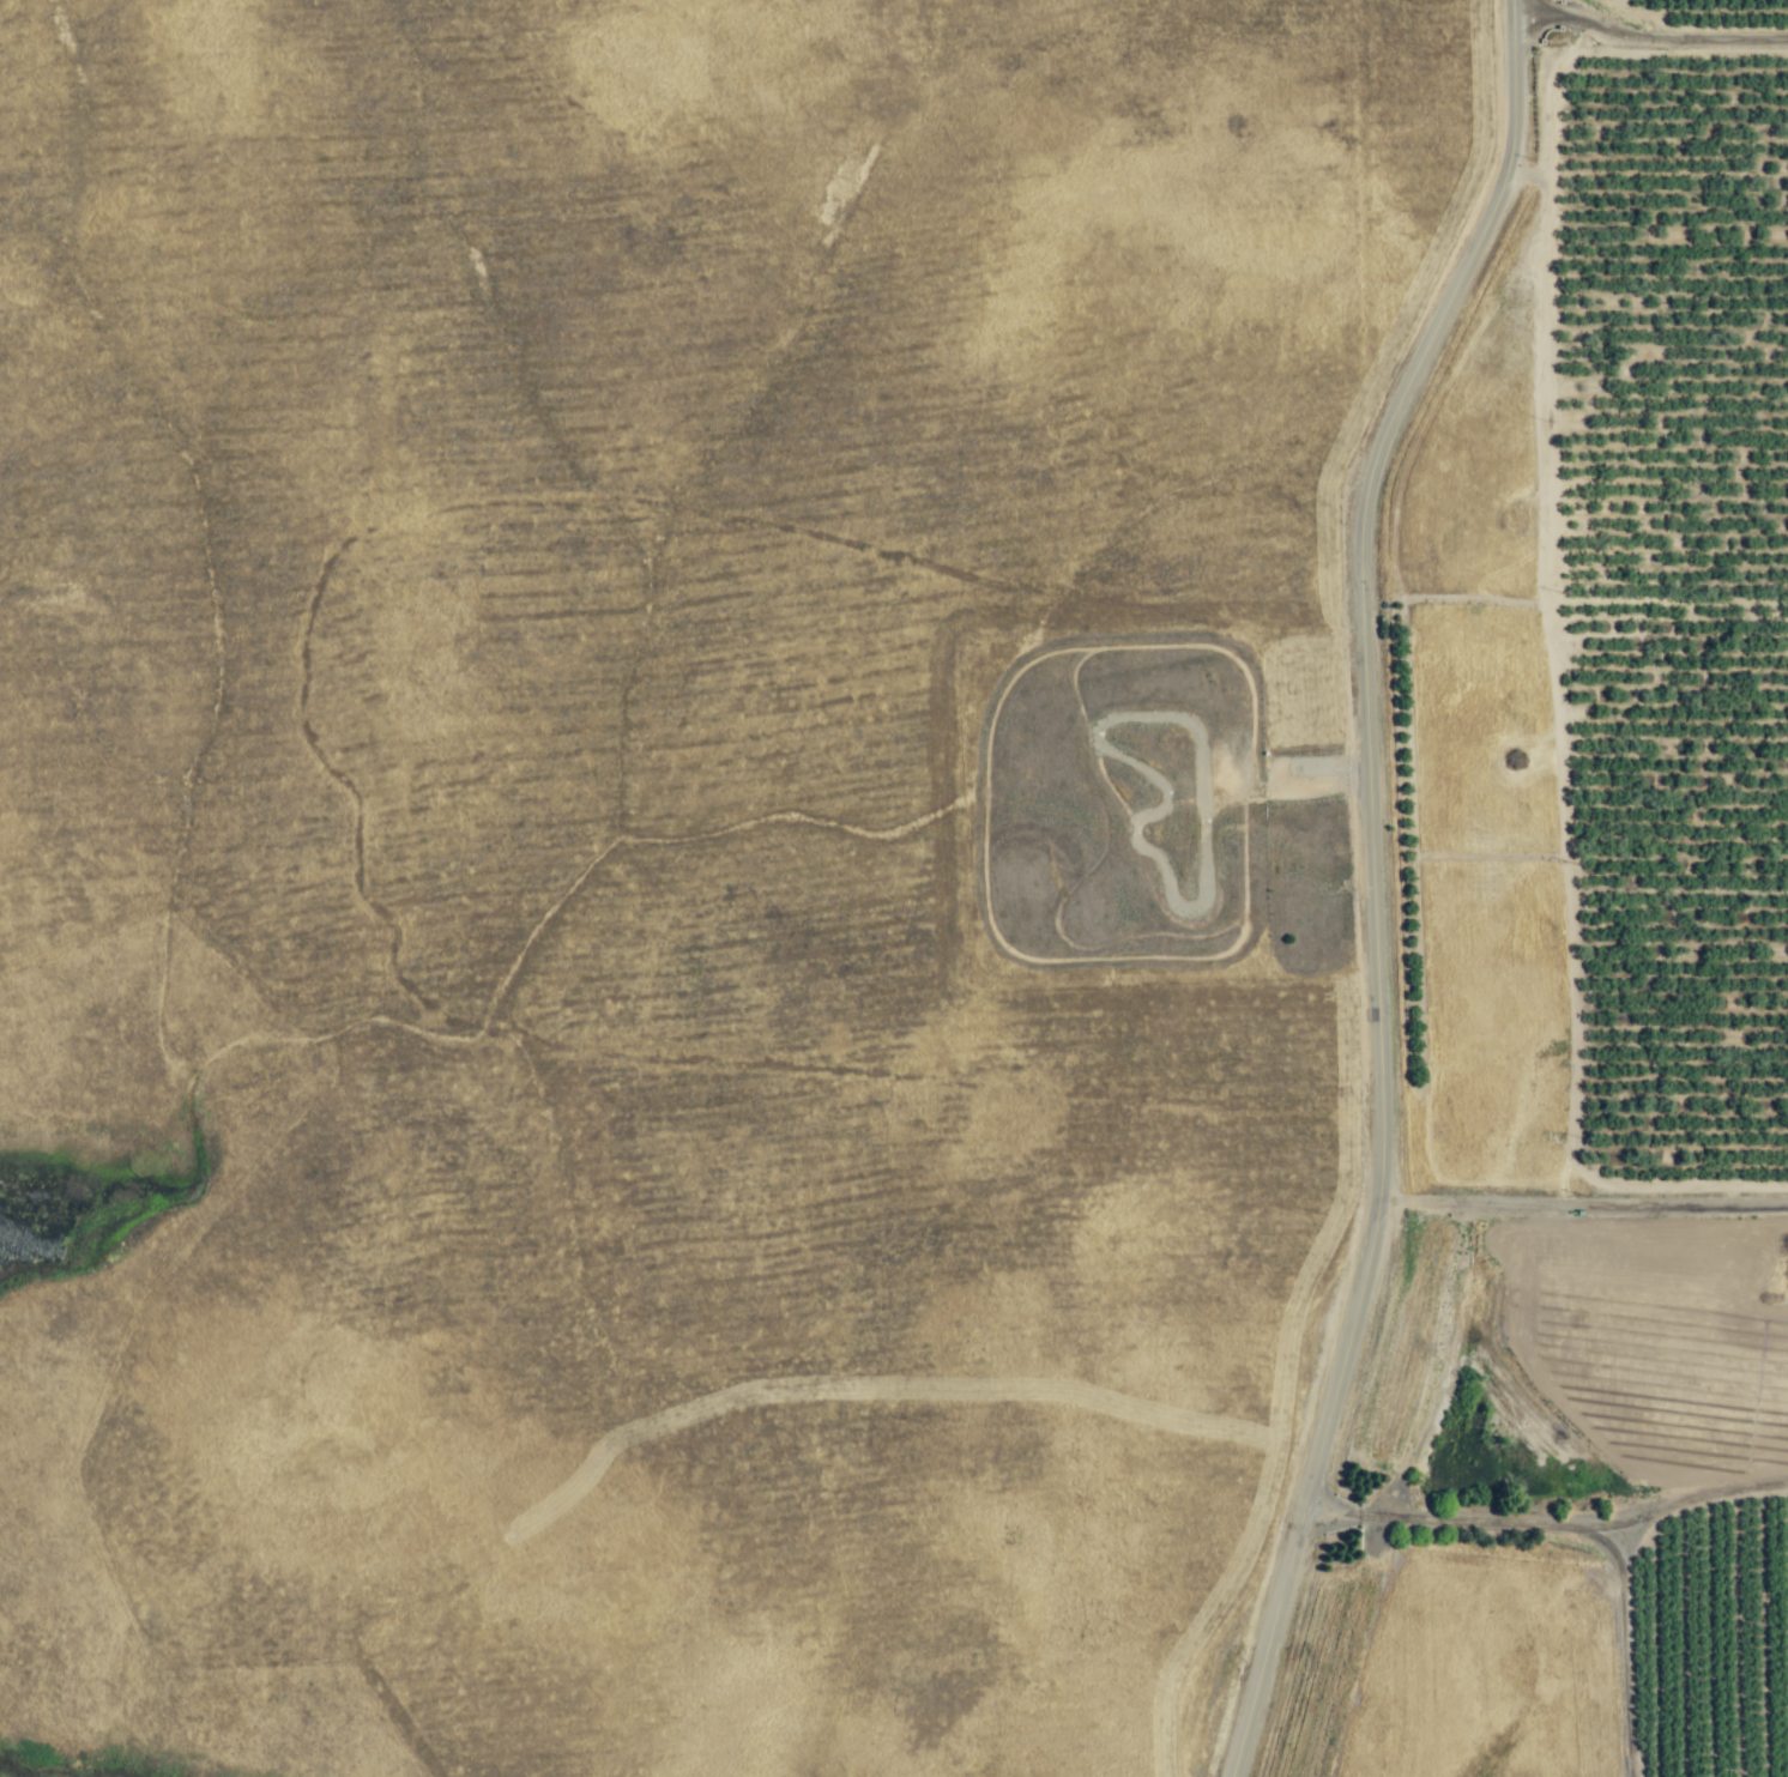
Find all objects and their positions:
road: (1650, 38)
crop: (1684, 570)
crop: (1669, 822)
road: (1376, 882)
road: (1585, 1193)

